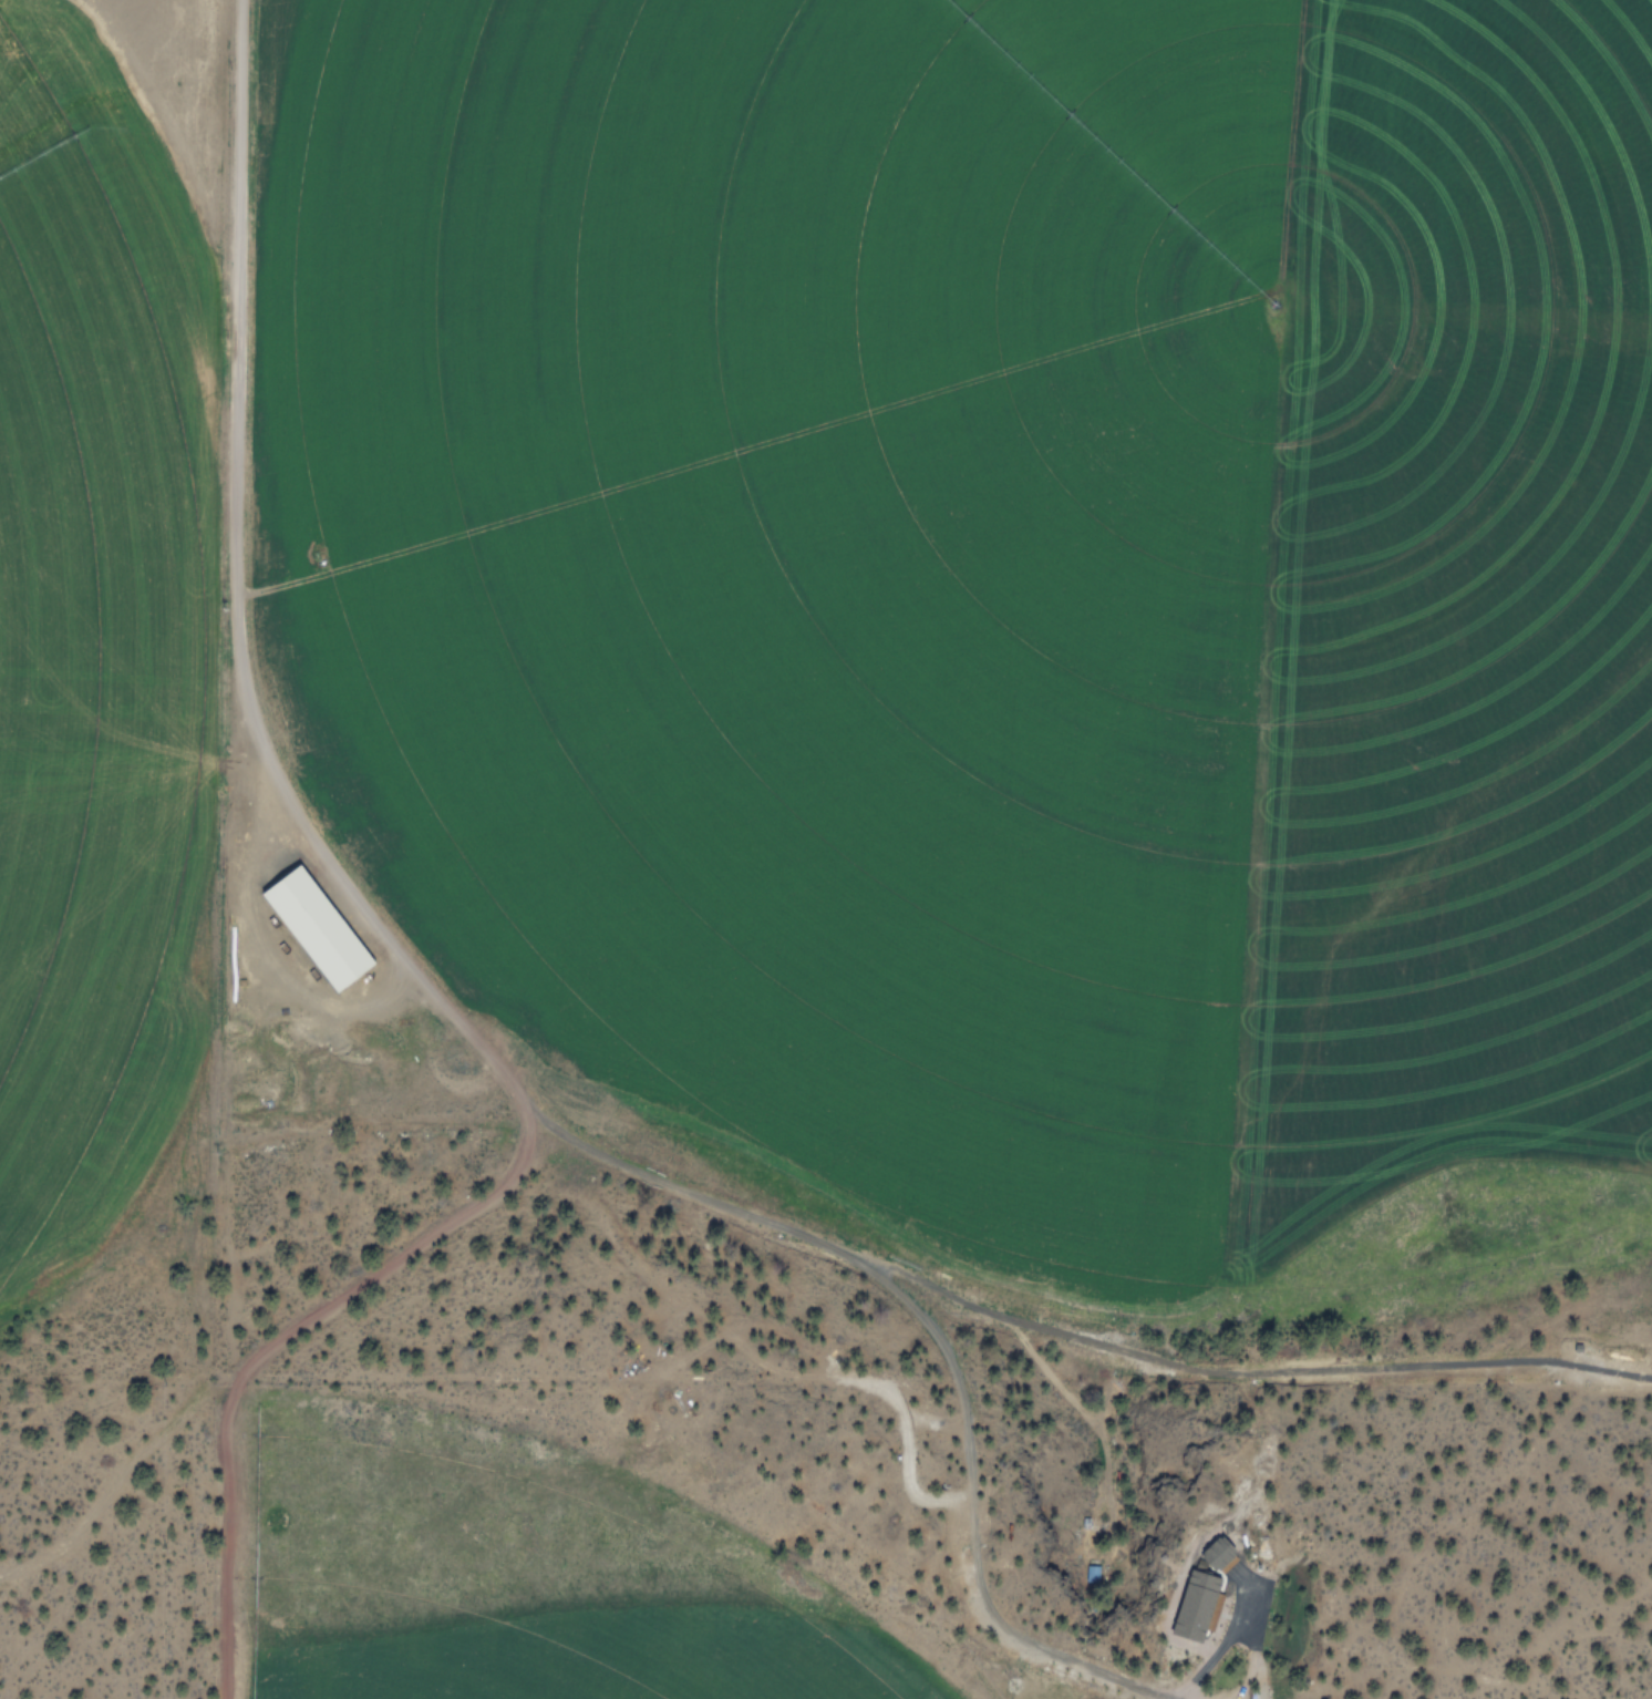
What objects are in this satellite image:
crop: (810, 789)
building: (321, 926)
building: (1221, 1553)
building: (1200, 1605)

